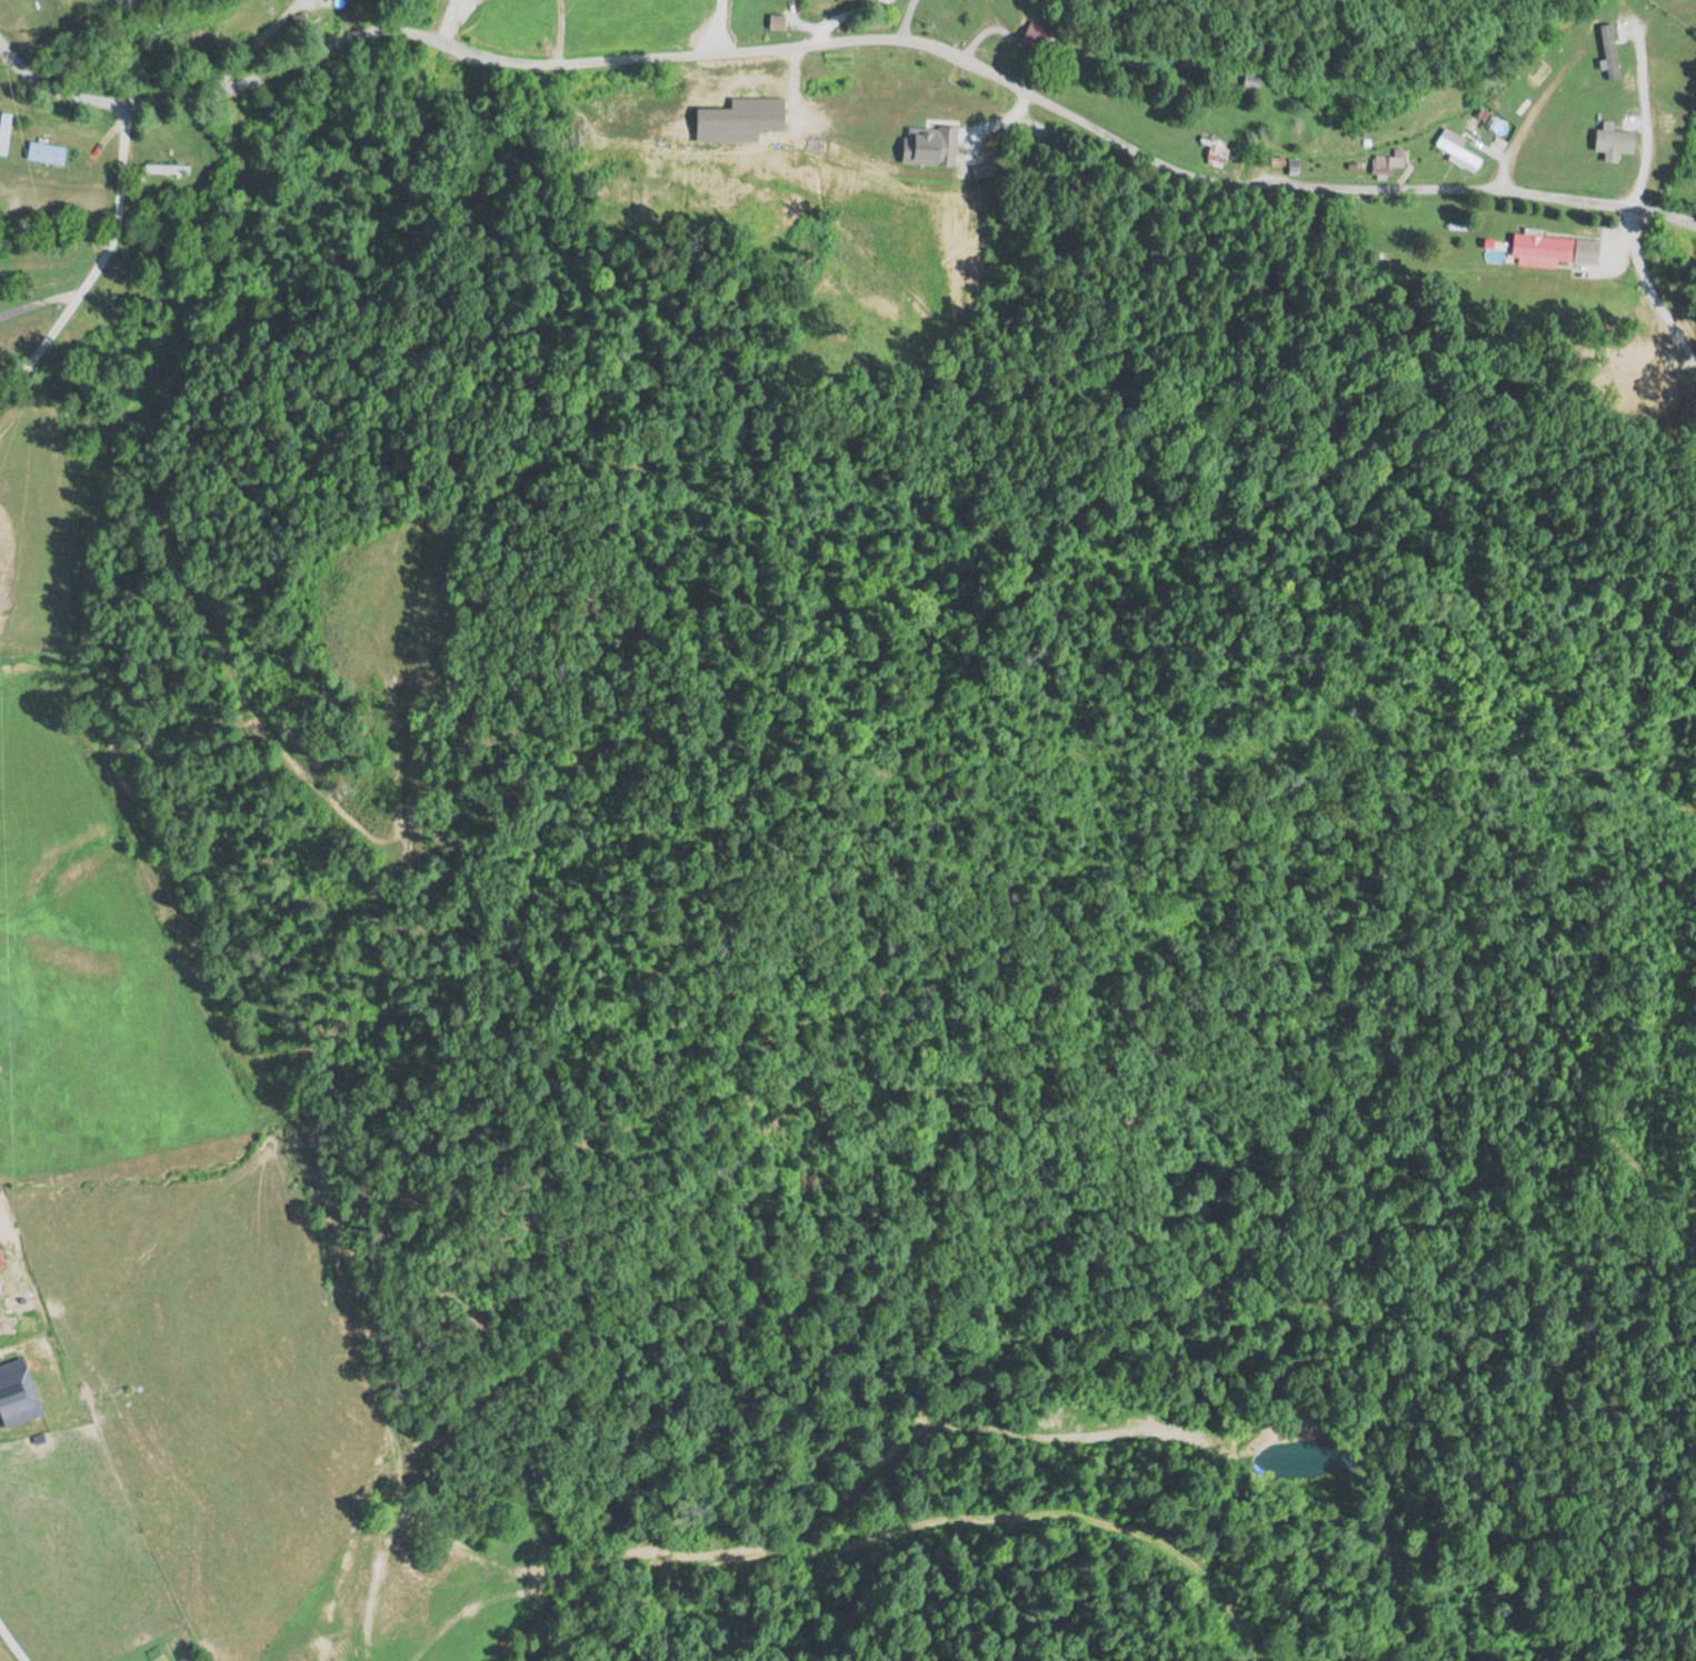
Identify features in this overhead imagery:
building: (333, 0)
building: (982, 0)
building: (1584, 31)
building: (1036, 36)
road: (844, 39)
building: (1249, 84)
building: (1520, 92)
building: (3, 132)
building: (1605, 136)
building: (928, 144)
building: (1454, 149)
building: (1213, 151)
building: (43, 152)
building: (1386, 164)
building: (166, 170)
building: (1553, 250)
road: (94, 262)
building: (14, 1333)
building: (51, 1349)
building: (29, 1375)

